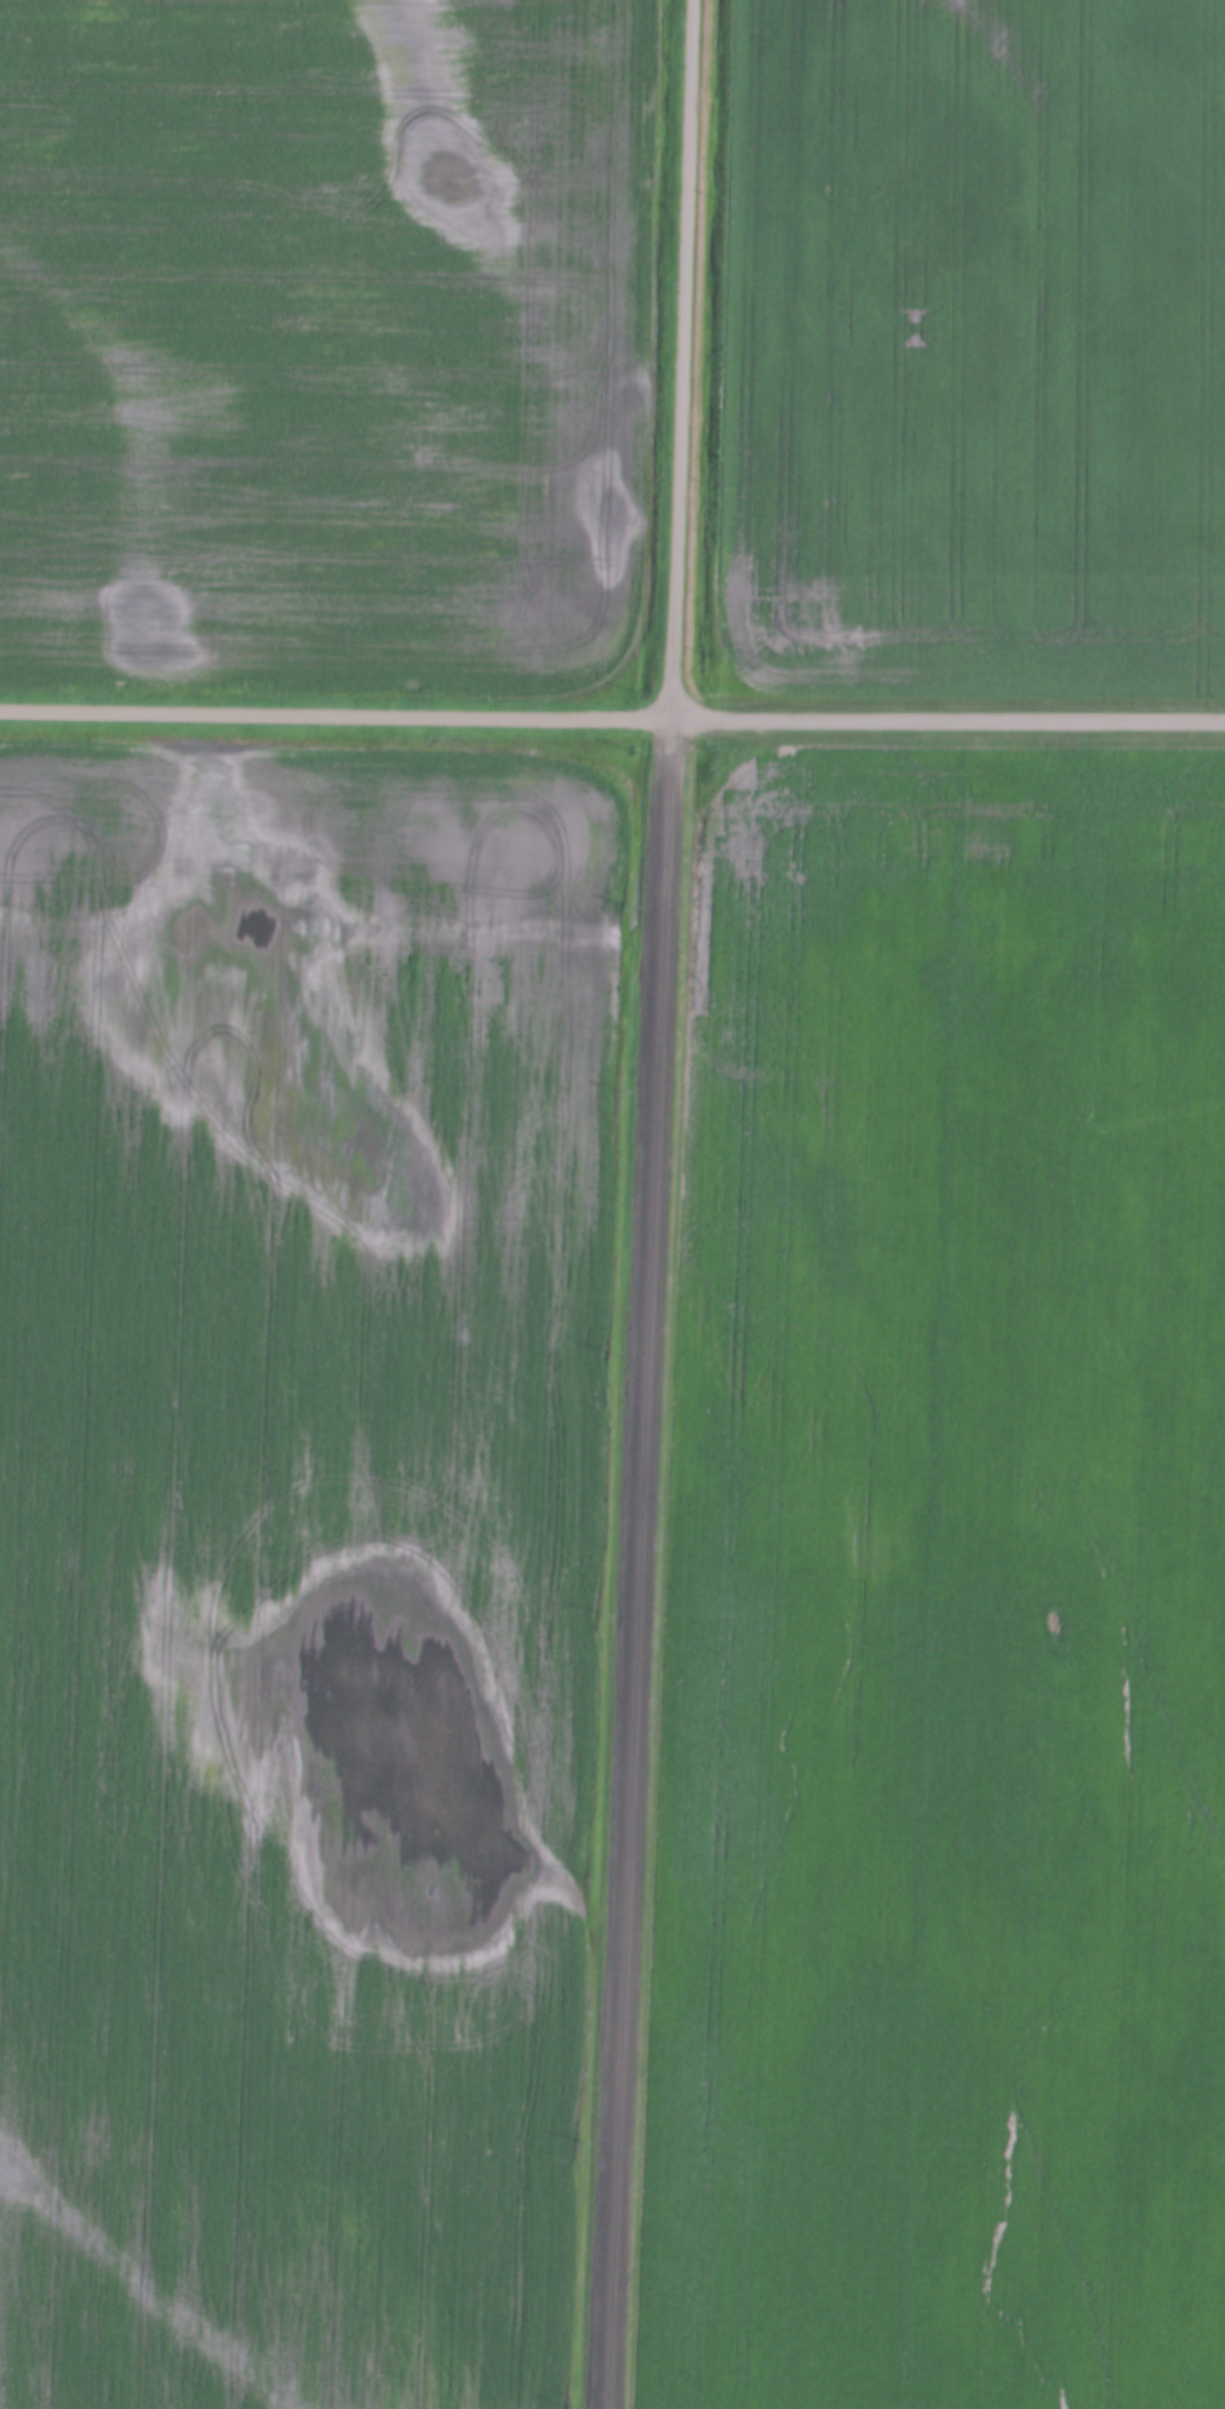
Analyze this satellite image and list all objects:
road: (682, 362)
road: (612, 720)
road: (641, 1567)

